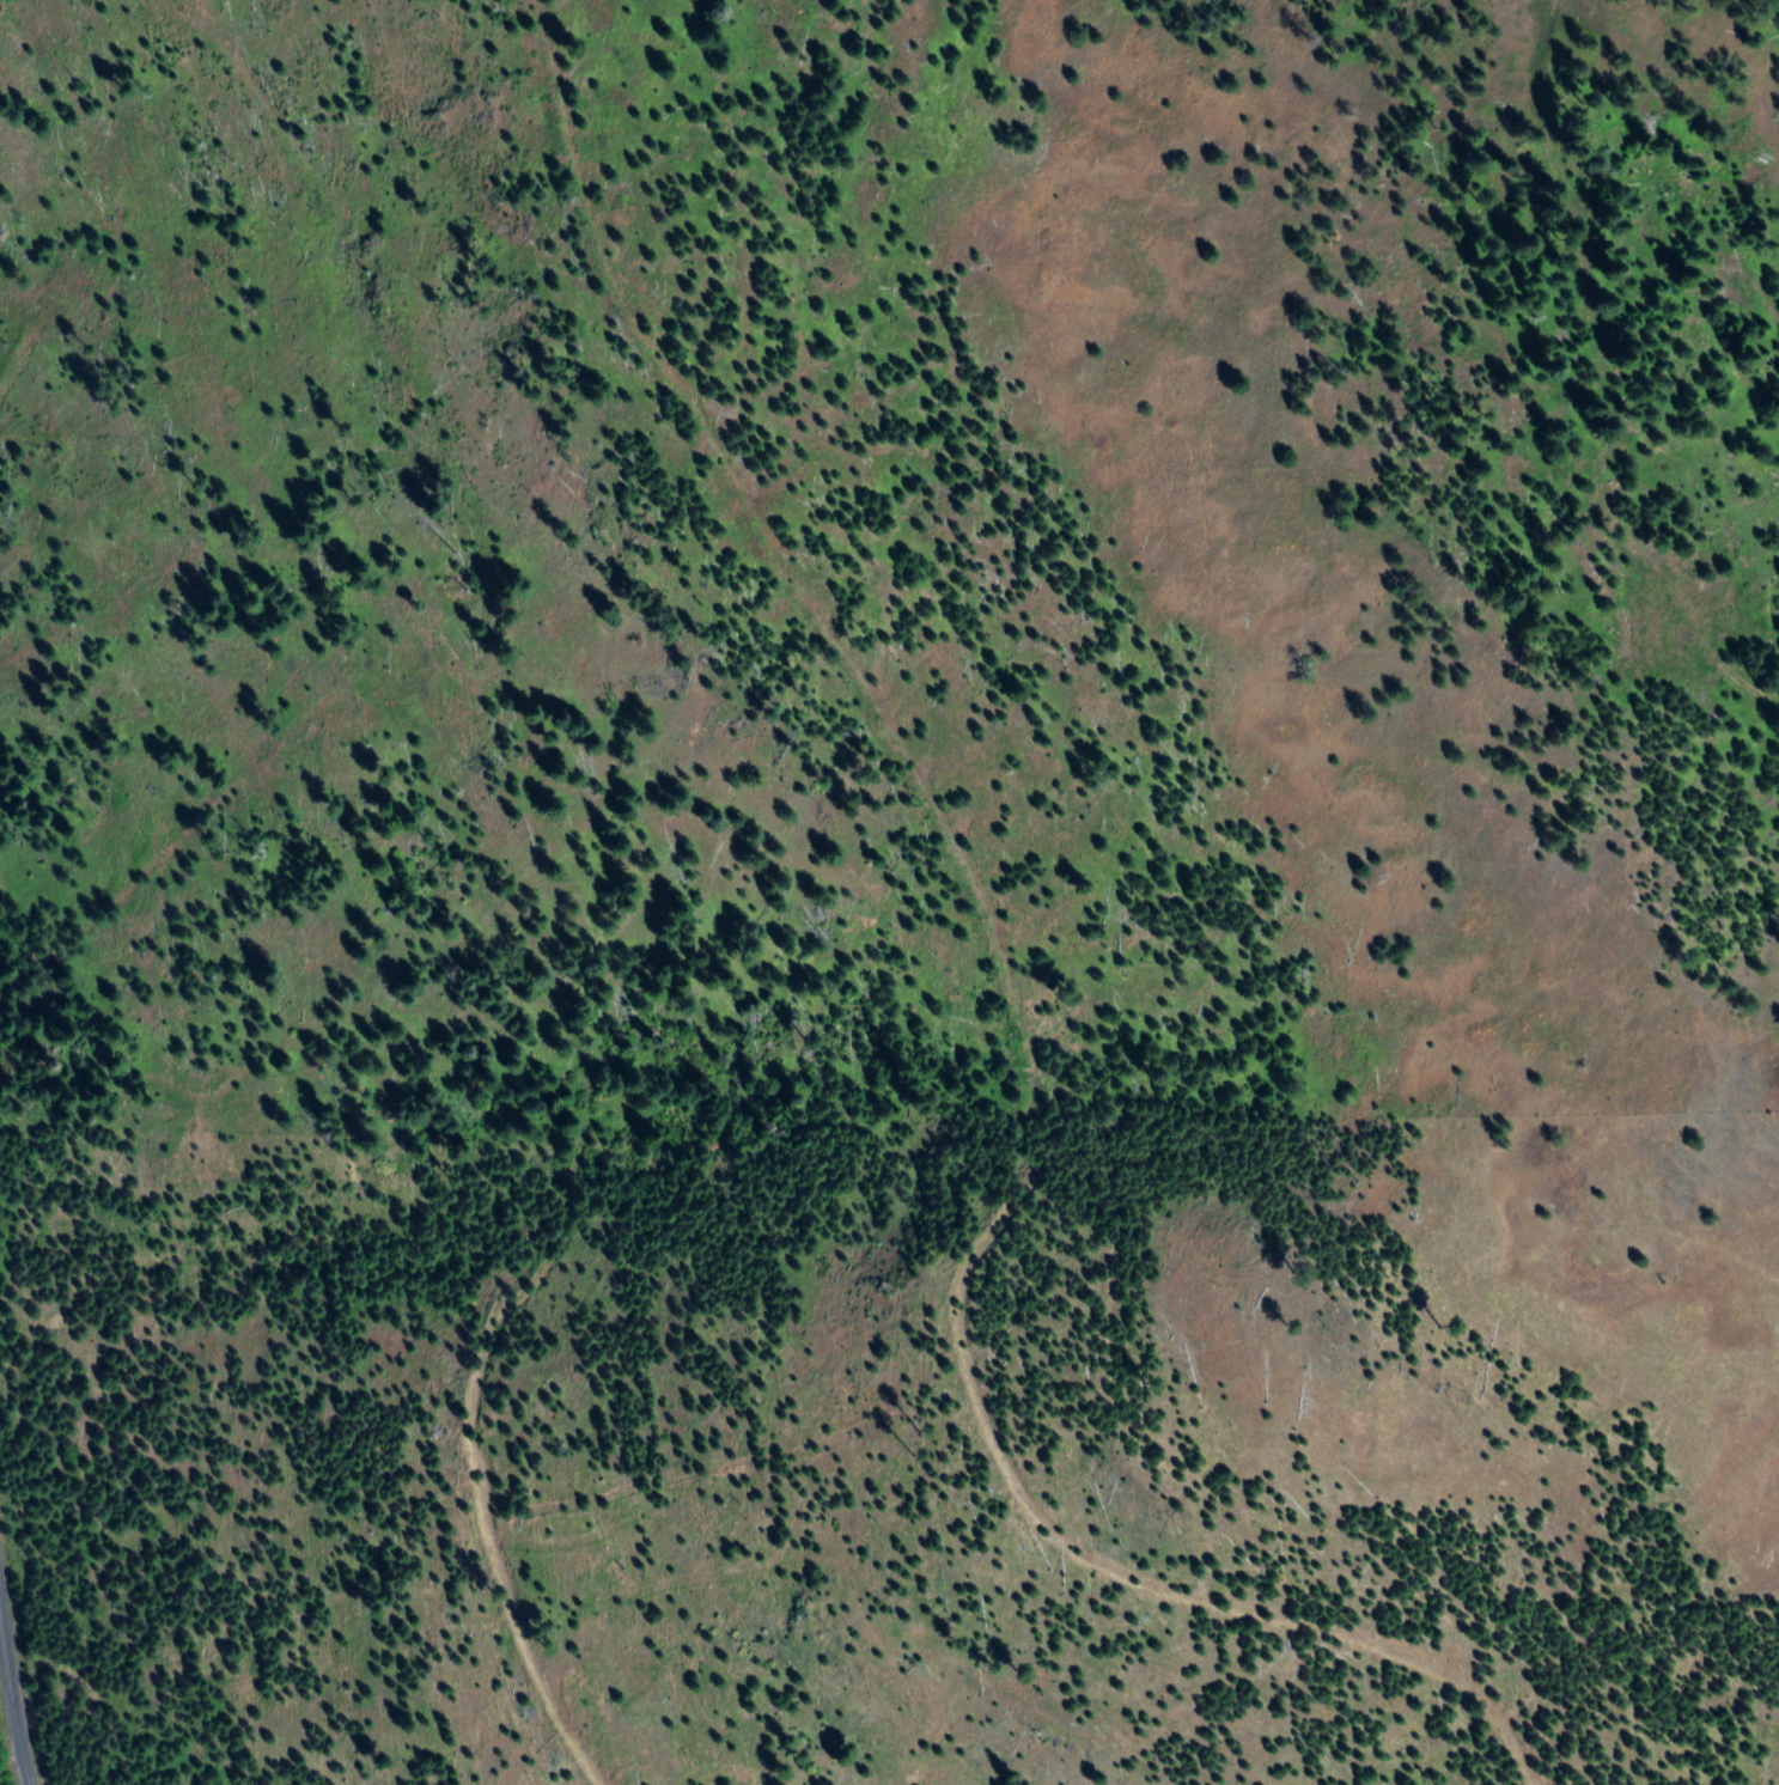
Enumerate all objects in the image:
road: (1119, 971)
road: (625, 1255)
road: (8, 1743)

